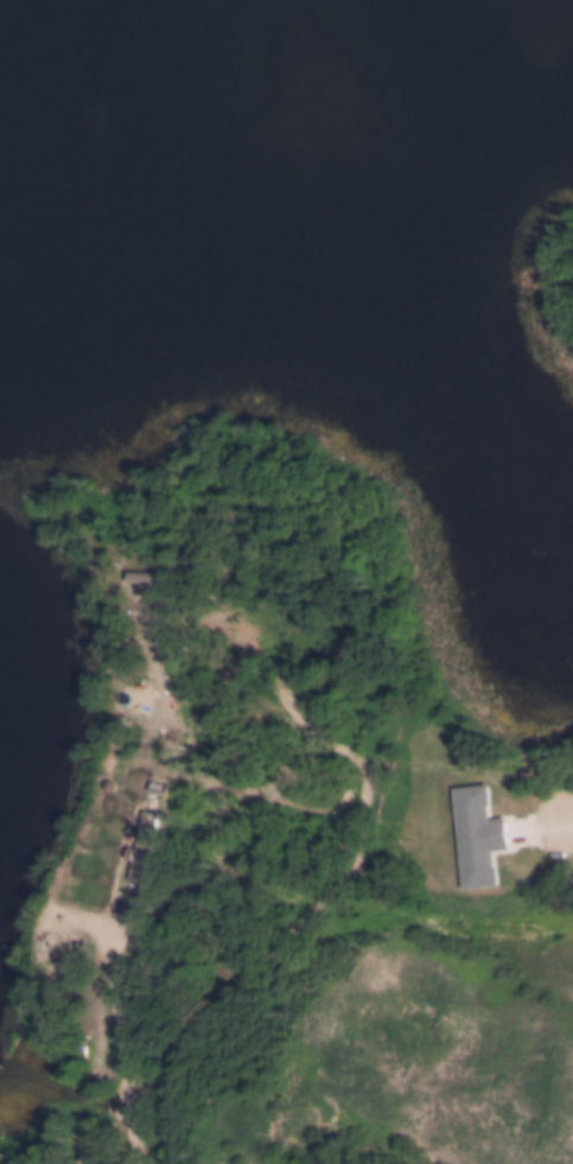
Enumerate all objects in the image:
road: (569, 821)

